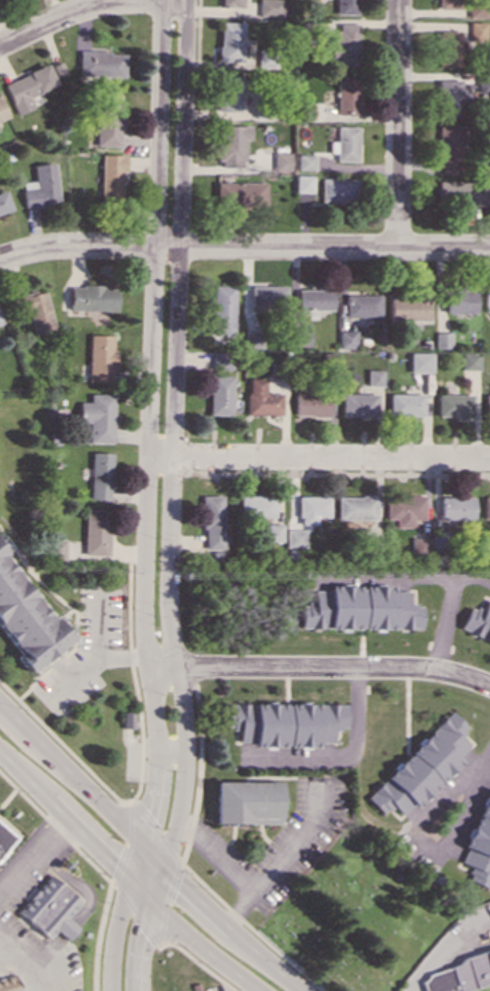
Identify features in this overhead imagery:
building: (231, 3)
building: (445, 4)
road: (90, 7)
building: (345, 7)
building: (269, 8)
building: (476, 10)
building: (475, 29)
building: (229, 41)
building: (343, 45)
building: (447, 48)
building: (100, 63)
building: (27, 88)
building: (227, 93)
building: (345, 95)
building: (448, 98)
building: (302, 111)
building: (2, 112)
building: (108, 120)
road: (396, 124)
building: (343, 144)
building: (230, 145)
building: (447, 148)
building: (279, 162)
building: (302, 162)
building: (110, 177)
building: (301, 183)
building: (39, 186)
building: (336, 190)
building: (461, 192)
building: (239, 193)
building: (4, 202)
road: (244, 247)
building: (266, 296)
building: (92, 297)
building: (313, 299)
building: (487, 300)
building: (460, 301)
building: (361, 305)
building: (407, 308)
building: (222, 310)
building: (31, 311)
building: (0, 322)
building: (299, 336)
building: (251, 339)
building: (346, 339)
building: (442, 340)
building: (100, 357)
building: (220, 360)
building: (469, 361)
building: (419, 362)
building: (373, 377)
building: (219, 395)
building: (259, 398)
building: (309, 404)
building: (357, 404)
building: (404, 404)
building: (453, 405)
building: (486, 405)
building: (98, 417)
road: (149, 423)
road: (173, 437)
road: (318, 458)
building: (100, 475)
building: (255, 506)
building: (455, 507)
building: (486, 507)
building: (310, 508)
building: (354, 508)
building: (403, 509)
building: (211, 522)
building: (95, 532)
building: (273, 532)
building: (293, 538)
building: (437, 540)
building: (418, 545)
building: (0, 546)
building: (57, 549)
building: (359, 609)
building: (25, 619)
building: (477, 622)
road: (92, 649)
road: (319, 669)
building: (126, 719)
building: (285, 723)
road: (340, 758)
road: (480, 761)
road: (139, 763)
building: (421, 766)
road: (198, 767)
road: (130, 801)
building: (246, 802)
road: (55, 827)
building: (4, 838)
traffic signals: (141, 845)
building: (479, 845)
road: (425, 848)
road: (146, 850)
road: (32, 855)
road: (213, 857)
road: (278, 858)
traffic signals: (166, 871)
road: (124, 878)
traffic signals: (129, 883)
traffic signals: (157, 910)
building: (50, 911)
road: (119, 916)
park: (352, 918)
road: (249, 926)
road: (150, 930)
road: (98, 934)
road: (0, 939)
road: (442, 946)
road: (197, 963)
road: (20, 970)
building: (457, 973)
building: (8, 984)
road: (254, 990)

